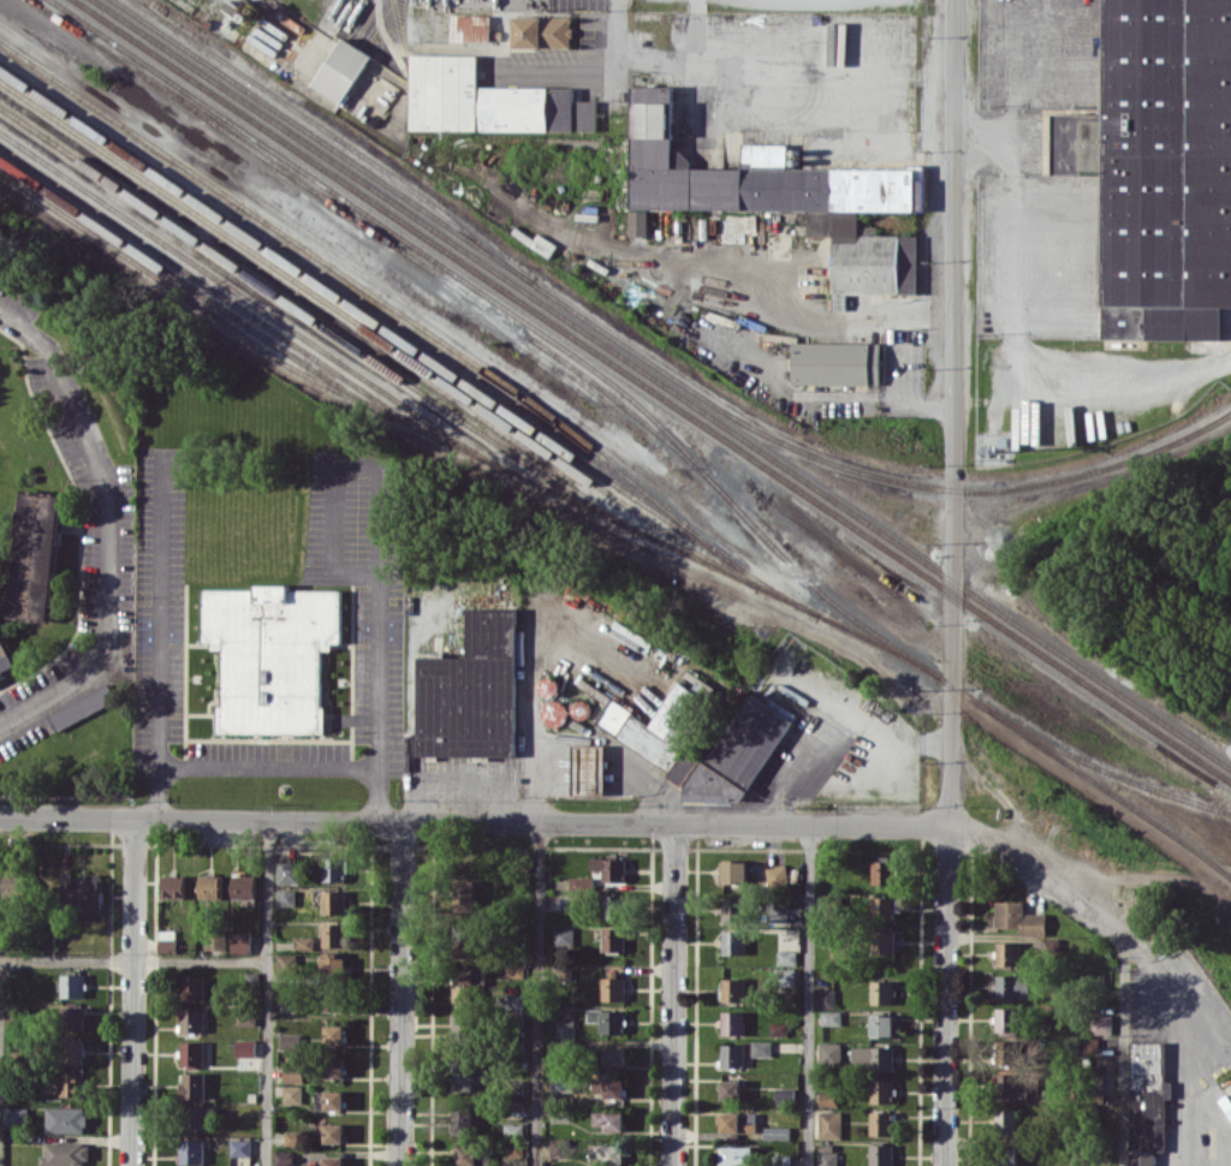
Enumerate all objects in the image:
building: (472, 26)
building: (542, 31)
road: (614, 63)
building: (341, 70)
building: (444, 91)
building: (535, 109)
road: (1009, 129)
railway: (334, 136)
building: (1160, 167)
building: (783, 196)
building: (638, 221)
railway: (386, 242)
railway: (194, 287)
railway: (478, 288)
road: (1016, 296)
railway: (222, 297)
railway: (375, 297)
road: (862, 319)
railway: (315, 320)
railway: (376, 334)
railway: (244, 338)
railway: (408, 340)
railway: (642, 353)
building: (837, 363)
railway: (660, 383)
railway: (650, 391)
road: (831, 395)
road: (956, 412)
railway: (451, 435)
road: (107, 530)
road: (380, 549)
building: (36, 555)
road: (159, 633)
building: (270, 654)
building: (6, 659)
railway: (922, 665)
building: (471, 690)
building: (83, 706)
building: (555, 712)
building: (650, 737)
road: (268, 767)
railway: (1100, 767)
building: (589, 769)
railway: (1105, 790)
road: (474, 822)
building: (334, 868)
building: (609, 868)
building: (286, 871)
building: (735, 871)
building: (884, 871)
building: (778, 875)
road: (1035, 876)
building: (582, 882)
building: (13, 886)
building: (172, 886)
building: (243, 886)
building: (210, 887)
building: (85, 896)
building: (464, 896)
building: (286, 897)
building: (333, 902)
building: (613, 906)
building: (885, 906)
building: (735, 909)
building: (778, 910)
building: (1021, 917)
building: (333, 934)
building: (564, 935)
building: (165, 938)
building: (613, 939)
building: (240, 941)
building: (465, 941)
building: (733, 941)
building: (882, 941)
building: (304, 942)
building: (1009, 953)
building: (786, 957)
road: (133, 960)
building: (286, 962)
building: (332, 964)
building: (515, 970)
building: (469, 984)
building: (72, 986)
building: (1013, 986)
building: (191, 987)
building: (613, 988)
building: (733, 989)
building: (882, 992)
road: (132, 993)
road: (267, 993)
road: (402, 994)
road: (539, 994)
road: (673, 994)
road: (809, 995)
road: (946, 995)
building: (827, 998)
building: (334, 1000)
building: (515, 1000)
building: (245, 1016)
building: (831, 1017)
building: (73, 1018)
building: (191, 1019)
building: (608, 1019)
building: (1006, 1021)
building: (733, 1022)
building: (459, 1023)
building: (1102, 1024)
building: (884, 1025)
building: (565, 1028)
building: (332, 1034)
building: (290, 1041)
road: (1179, 1041)
building: (245, 1047)
road: (1120, 1047)
building: (761, 1048)
building: (73, 1051)
building: (191, 1053)
building: (829, 1053)
building: (614, 1055)
building: (732, 1055)
building: (873, 1058)
building: (334, 1066)
building: (292, 1072)
building: (462, 1073)
building: (561, 1082)
building: (71, 1083)
building: (192, 1085)
building: (609, 1087)
building: (1012, 1087)
building: (730, 1089)
building: (881, 1090)
building: (292, 1094)
building: (786, 1095)
building: (829, 1099)
building: (328, 1100)
building: (1147, 1101)
building: (560, 1114)
building: (17, 1116)
building: (195, 1117)
building: (66, 1119)
building: (463, 1119)
building: (609, 1120)
building: (1007, 1120)
building: (737, 1122)
building: (881, 1123)
building: (831, 1124)
building: (777, 1132)
building: (320, 1135)
building: (239, 1147)
building: (560, 1148)
building: (513, 1149)
building: (191, 1150)
building: (65, 1153)
building: (608, 1153)
building: (736, 1154)
building: (466, 1155)
building: (881, 1155)
building: (1006, 1155)
building: (284, 1158)
building: (828, 1158)
building: (333, 1160)

